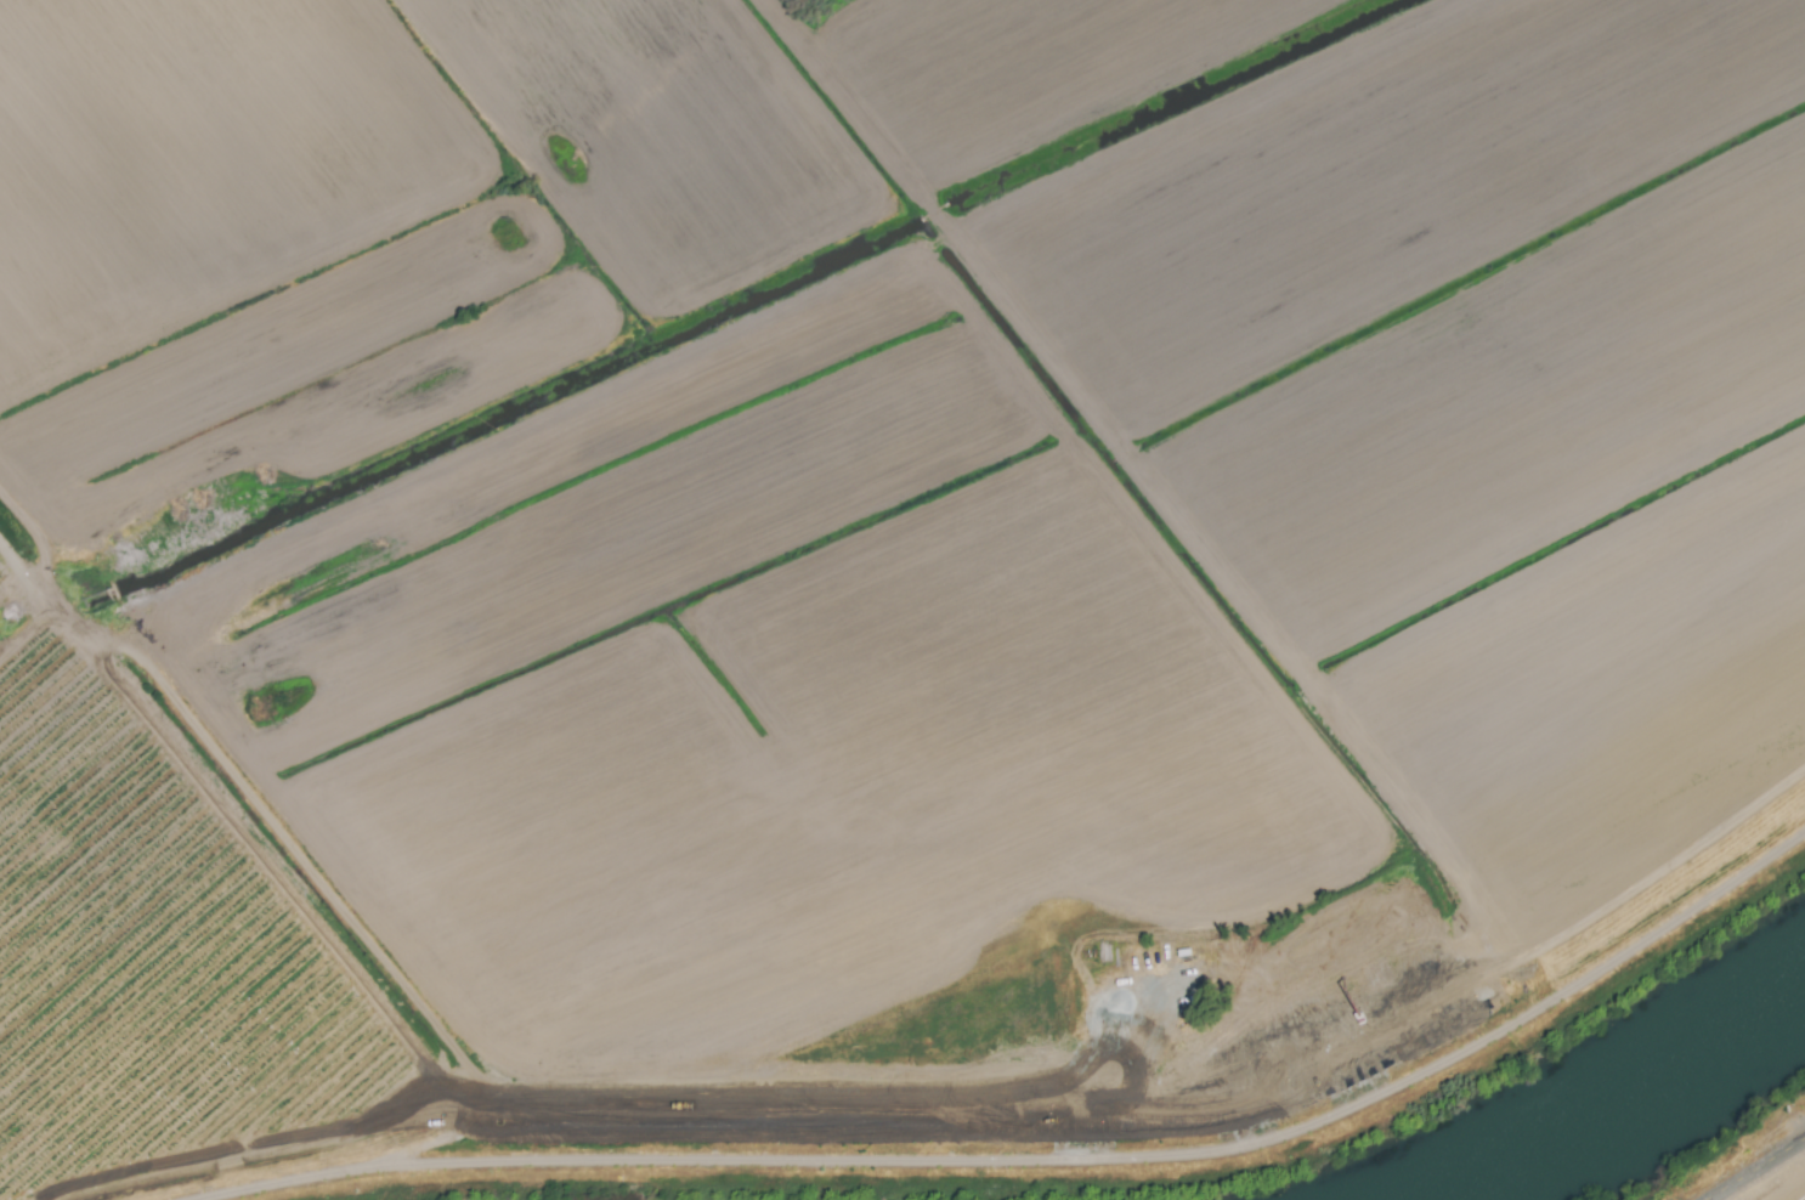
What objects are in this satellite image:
crop: (864, 568)
road: (288, 850)
road: (841, 1115)
road: (1047, 1161)
road: (1755, 1168)
crop: (1778, 1185)

